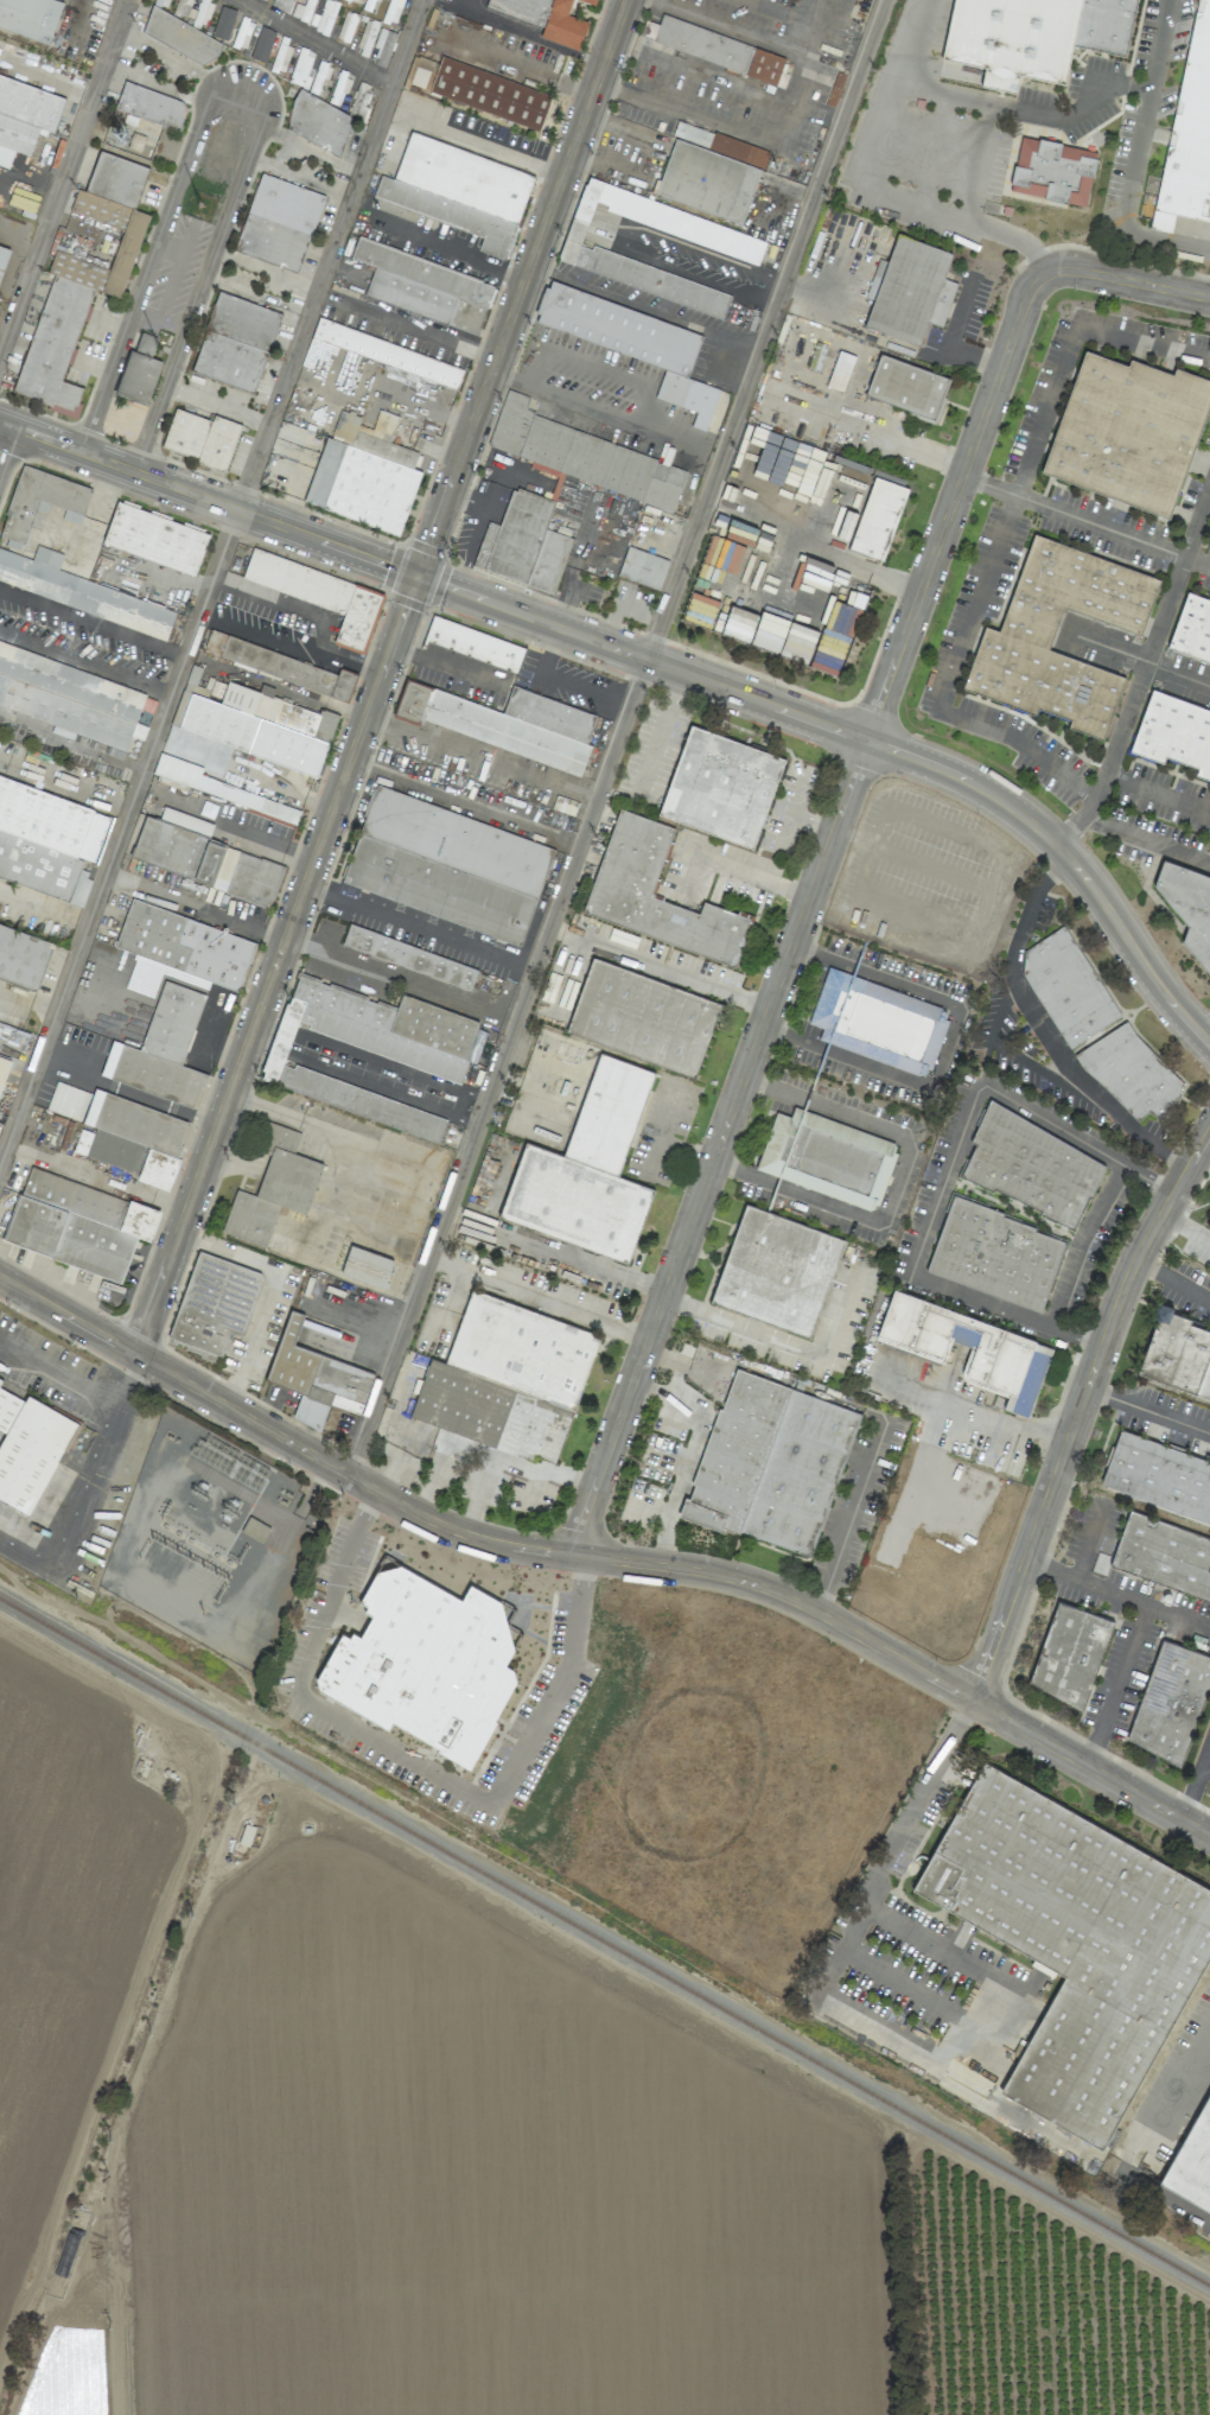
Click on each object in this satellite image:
building: (592, 2)
building: (307, 11)
building: (393, 11)
building: (30, 17)
building: (549, 20)
building: (223, 23)
building: (1104, 25)
building: (346, 26)
building: (242, 33)
building: (180, 37)
road: (528, 37)
building: (1012, 39)
road: (316, 42)
building: (262, 44)
building: (722, 51)
parking lot: (1167, 57)
building: (301, 69)
building: (485, 91)
road: (241, 95)
building: (359, 101)
road: (986, 102)
building: (149, 106)
road: (1144, 115)
building: (24, 116)
building: (318, 123)
parking lot: (974, 126)
building: (122, 133)
building: (1189, 136)
road: (935, 151)
road: (981, 163)
building: (1053, 172)
building: (461, 173)
road: (63, 174)
building: (702, 182)
road: (871, 192)
road: (566, 199)
road: (585, 206)
building: (448, 214)
building: (278, 222)
road: (556, 227)
road: (575, 234)
road: (1018, 239)
road: (1164, 240)
road: (434, 244)
road: (688, 244)
building: (737, 249)
building: (2, 256)
road: (266, 268)
road: (677, 272)
building: (83, 275)
road: (1127, 280)
building: (423, 285)
building: (905, 288)
road: (644, 304)
road: (410, 329)
road: (765, 329)
road: (2, 331)
building: (631, 341)
building: (235, 342)
road: (948, 349)
building: (383, 352)
building: (139, 370)
building: (840, 370)
building: (905, 386)
road: (645, 415)
building: (1129, 433)
road: (4, 436)
building: (200, 438)
road: (919, 450)
building: (361, 472)
building: (647, 489)
building: (40, 503)
building: (873, 513)
road: (1088, 521)
building: (1209, 535)
building: (155, 538)
road: (813, 547)
building: (643, 567)
traffic signals: (416, 574)
road: (210, 583)
building: (79, 591)
building: (320, 595)
road: (282, 603)
road: (973, 604)
road: (93, 623)
building: (1196, 628)
road: (261, 633)
building: (1017, 634)
building: (473, 643)
road: (85, 660)
road: (654, 661)
road: (350, 663)
building: (279, 665)
road: (378, 675)
road: (1140, 680)
building: (193, 684)
building: (74, 699)
building: (505, 723)
building: (260, 726)
building: (1172, 735)
road: (479, 757)
road: (32, 774)
building: (189, 776)
building: (720, 787)
road: (464, 802)
road: (1084, 809)
building: (47, 839)
building: (202, 857)
building: (630, 862)
building: (447, 865)
road: (751, 875)
building: (1189, 905)
road: (809, 909)
road: (42, 914)
road: (419, 928)
building: (184, 946)
building: (23, 953)
road: (826, 955)
building: (409, 957)
road: (855, 966)
road: (661, 967)
road: (401, 977)
building: (1066, 986)
road: (27, 1003)
building: (643, 1017)
building: (878, 1022)
road: (1044, 1031)
road: (794, 1040)
road: (295, 1043)
road: (944, 1047)
building: (369, 1048)
road: (999, 1048)
building: (161, 1049)
road: (824, 1051)
building: (4, 1066)
road: (498, 1066)
building: (1131, 1072)
road: (781, 1088)
road: (127, 1094)
building: (68, 1100)
road: (815, 1101)
building: (133, 1137)
building: (827, 1157)
building: (1031, 1167)
building: (587, 1169)
road: (750, 1172)
road: (949, 1176)
road: (902, 1184)
building: (273, 1187)
road: (784, 1187)
building: (77, 1224)
building: (1209, 1226)
road: (1186, 1232)
road: (1081, 1245)
building: (995, 1254)
building: (365, 1265)
building: (776, 1270)
road: (1174, 1284)
road: (539, 1301)
building: (214, 1304)
road: (782, 1346)
building: (969, 1348)
building: (1177, 1353)
road: (765, 1371)
building: (316, 1377)
building: (507, 1378)
building: (0, 1380)
road: (76, 1390)
road: (1151, 1410)
road: (973, 1415)
road: (1082, 1415)
building: (28, 1448)
road: (442, 1453)
road: (693, 1454)
road: (509, 1463)
building: (771, 1463)
building: (1158, 1476)
road: (370, 1510)
road: (854, 1513)
power substation: (215, 1539)
road: (1090, 1546)
building: (1164, 1555)
road: (604, 1558)
road: (1117, 1596)
road: (580, 1614)
building: (1069, 1653)
building: (423, 1661)
road: (1119, 1688)
building: (1170, 1701)
road: (387, 1744)
road: (1204, 1767)
road: (1193, 1777)
road: (899, 1838)
building: (1074, 1940)
railway: (605, 1941)
road: (987, 2003)
road: (1179, 2078)
crop: (451, 2153)
building: (1193, 2161)

